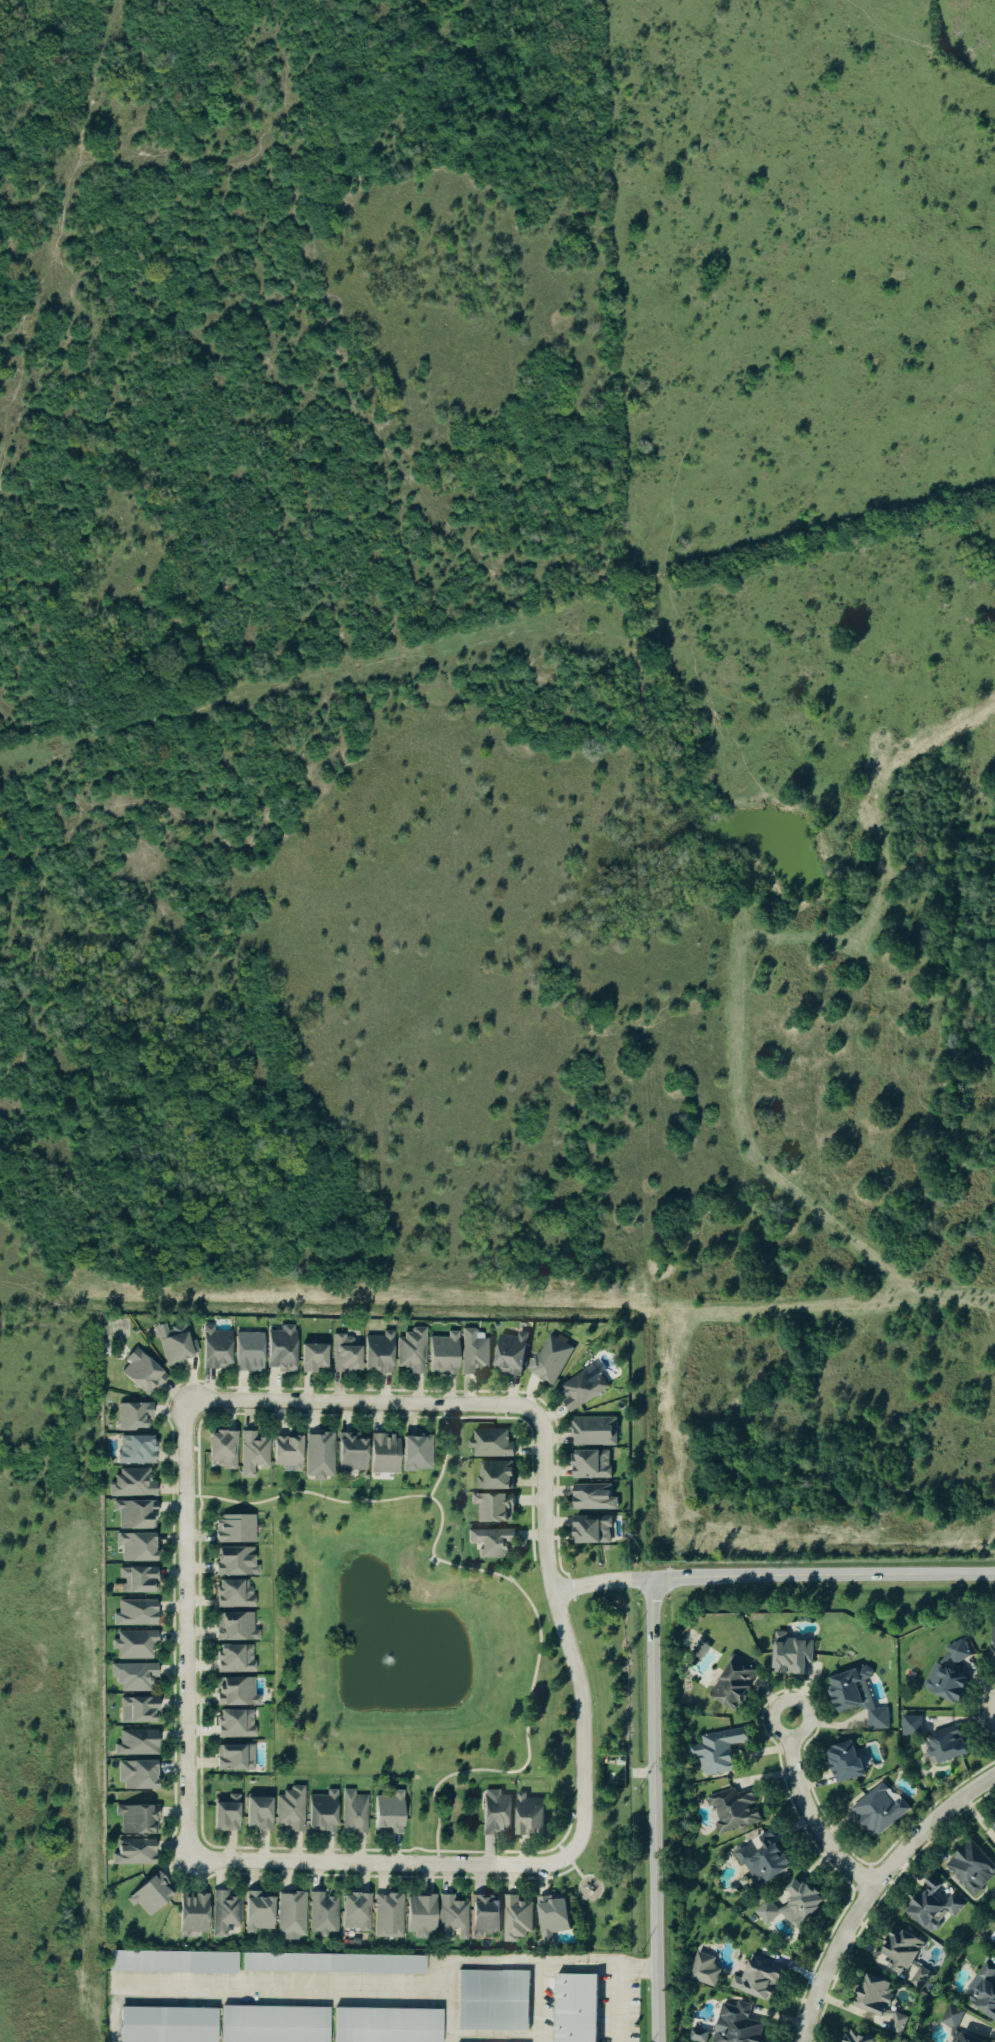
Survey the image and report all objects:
railway: (951, 21)
building: (176, 1347)
building: (213, 1348)
building: (279, 1349)
building: (409, 1351)
building: (246, 1352)
building: (472, 1353)
building: (343, 1354)
building: (376, 1354)
building: (441, 1355)
building: (509, 1355)
building: (310, 1358)
building: (550, 1360)
building: (140, 1372)
building: (581, 1390)
road: (363, 1403)
building: (133, 1416)
building: (594, 1432)
building: (490, 1443)
building: (136, 1450)
building: (220, 1450)
building: (284, 1451)
building: (349, 1451)
road: (448, 1452)
building: (414, 1453)
building: (251, 1454)
building: (382, 1454)
building: (318, 1455)
building: (590, 1464)
building: (493, 1475)
building: (131, 1483)
building: (592, 1497)
building: (492, 1508)
building: (133, 1515)
building: (233, 1530)
building: (591, 1530)
building: (490, 1543)
building: (135, 1548)
building: (234, 1561)
road: (500, 1576)
road: (823, 1577)
building: (137, 1579)
road: (602, 1584)
building: (233, 1594)
building: (135, 1613)
building: (234, 1627)
road: (187, 1631)
road: (564, 1632)
building: (134, 1644)
building: (992, 1646)
building: (789, 1655)
building: (233, 1659)
fountain: (395, 1659)
building: (131, 1676)
building: (732, 1684)
building: (944, 1685)
building: (846, 1689)
building: (235, 1692)
building: (137, 1709)
building: (876, 1720)
building: (233, 1724)
building: (911, 1726)
building: (135, 1743)
building: (942, 1745)
building: (717, 1751)
building: (234, 1757)
building: (843, 1763)
building: (135, 1775)
building: (289, 1809)
road: (654, 1810)
building: (877, 1810)
building: (732, 1811)
building: (320, 1813)
building: (353, 1813)
building: (386, 1813)
building: (225, 1814)
building: (256, 1814)
building: (494, 1815)
road: (810, 1815)
building: (527, 1816)
building: (136, 1820)
building: (993, 1825)
building: (133, 1852)
building: (762, 1860)
road: (382, 1863)
building: (970, 1868)
road: (873, 1891)
building: (149, 1895)
building: (799, 1903)
building: (931, 1905)
building: (256, 1911)
building: (354, 1911)
building: (224, 1912)
building: (767, 1912)
building: (191, 1913)
building: (322, 1913)
building: (290, 1914)
building: (387, 1915)
building: (419, 1916)
building: (482, 1916)
building: (450, 1917)
building: (551, 1917)
building: (516, 1918)
building: (993, 1944)
building: (994, 1948)
building: (898, 1951)
building: (170, 1962)
road: (513, 1962)
building: (331, 1963)
building: (704, 1971)
building: (756, 1978)
building: (983, 1993)
building: (870, 1995)
road: (616, 2000)
building: (490, 2001)
road: (537, 2002)
building: (572, 2008)
building: (950, 2017)
building: (272, 2024)
building: (734, 2024)
building: (164, 2025)
building: (384, 2025)
building: (698, 2035)
building: (854, 2037)
building: (965, 2038)

